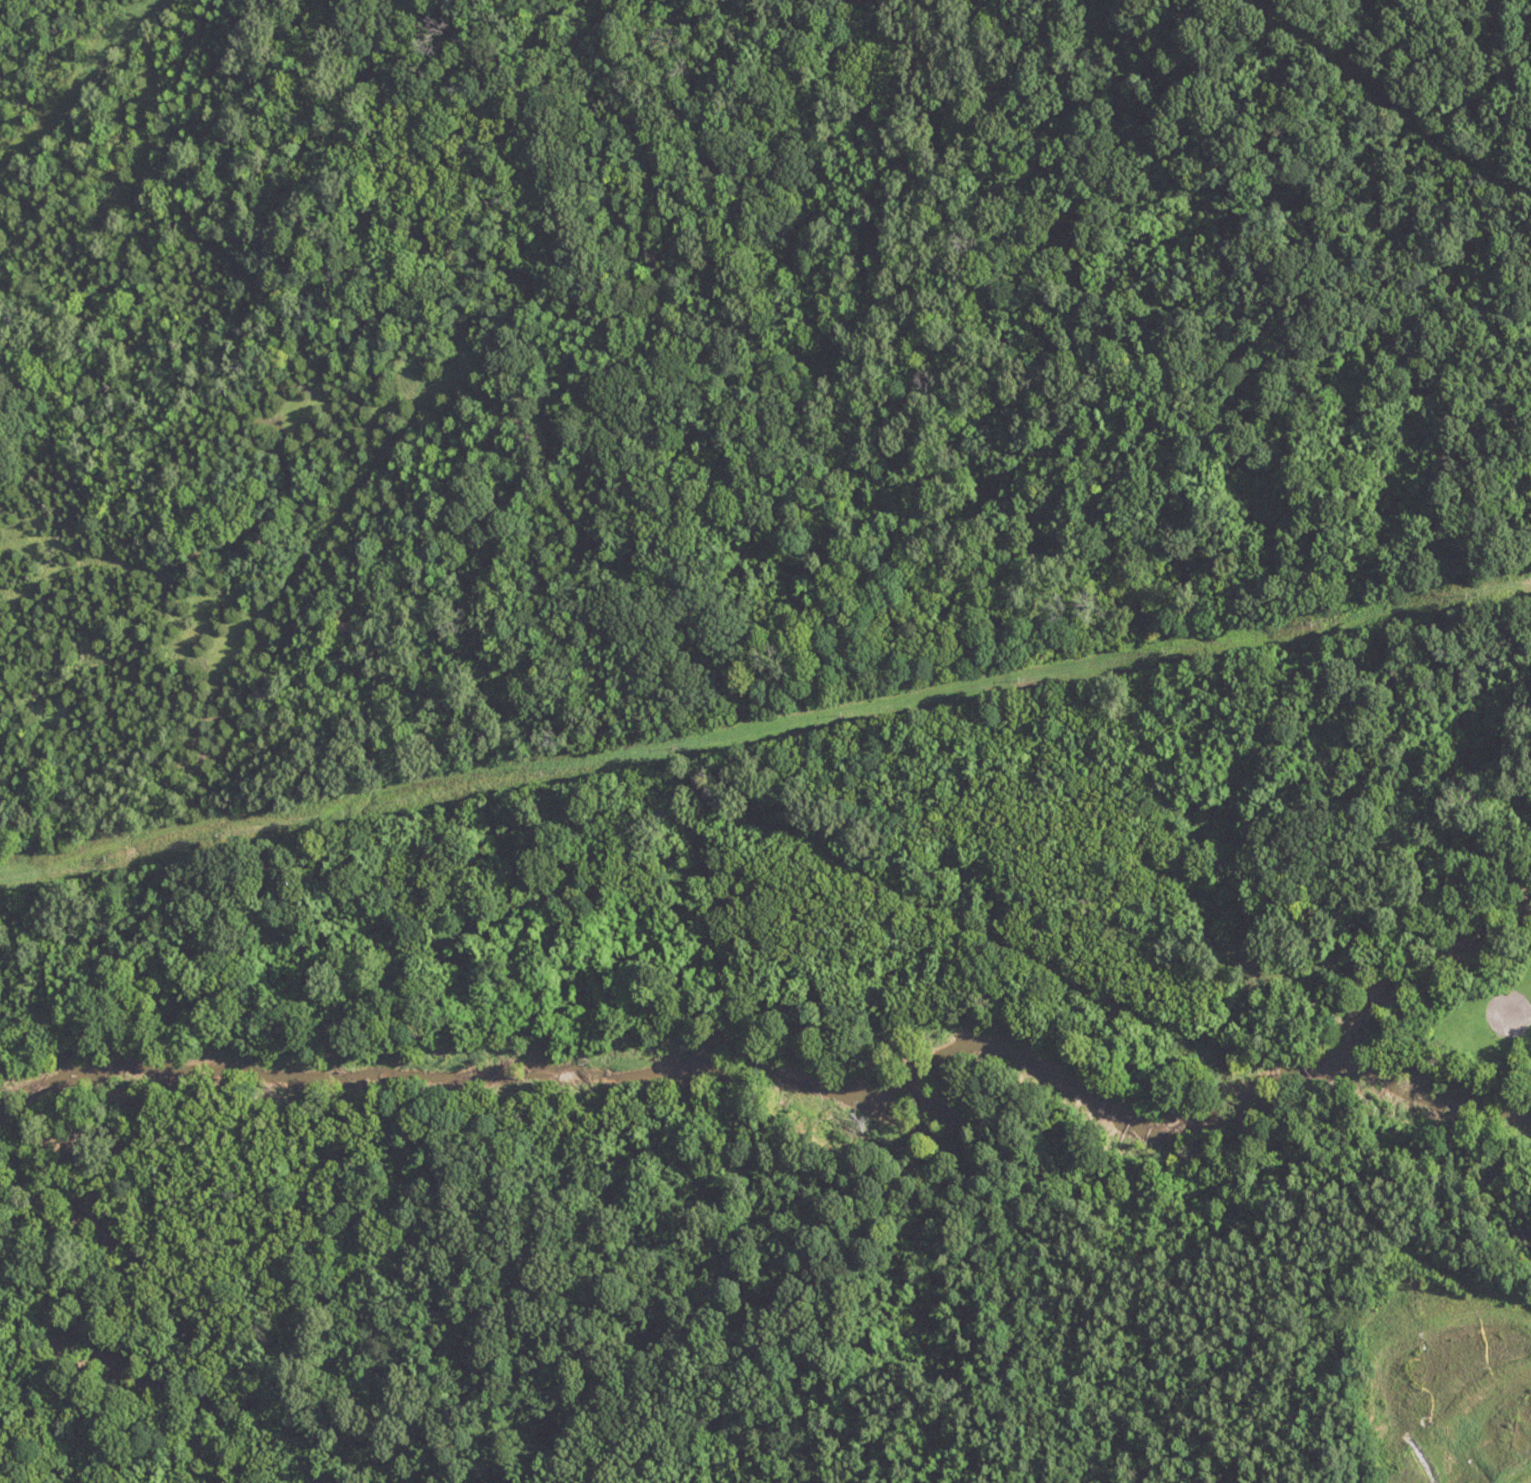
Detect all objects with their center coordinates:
road: (1518, 1015)

